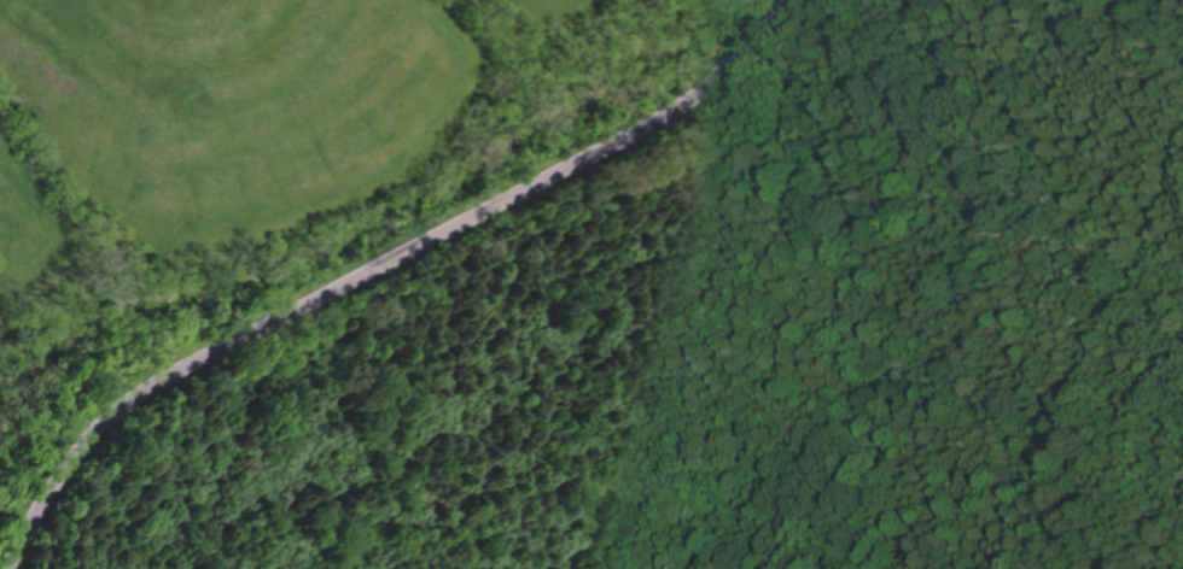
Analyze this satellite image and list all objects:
road: (375, 263)

